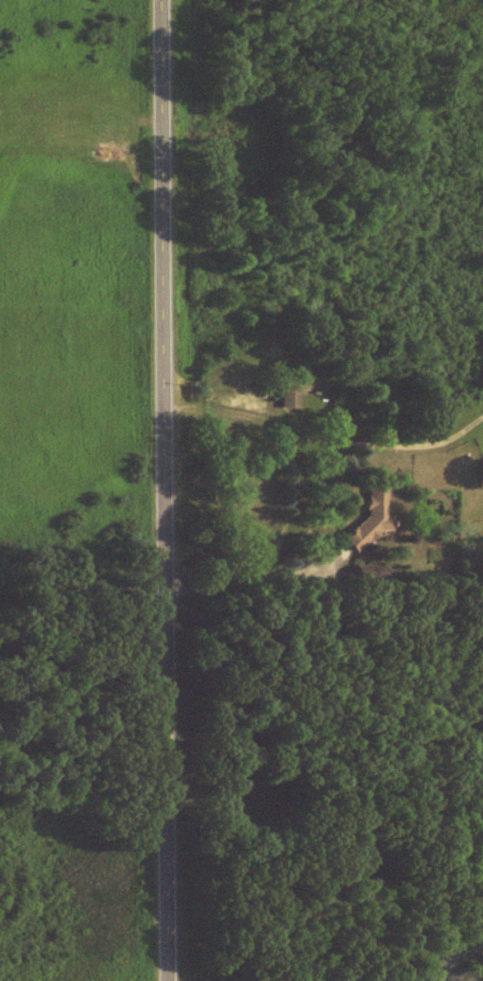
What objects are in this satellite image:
building: (283, 397)
road: (168, 490)
building: (361, 519)

